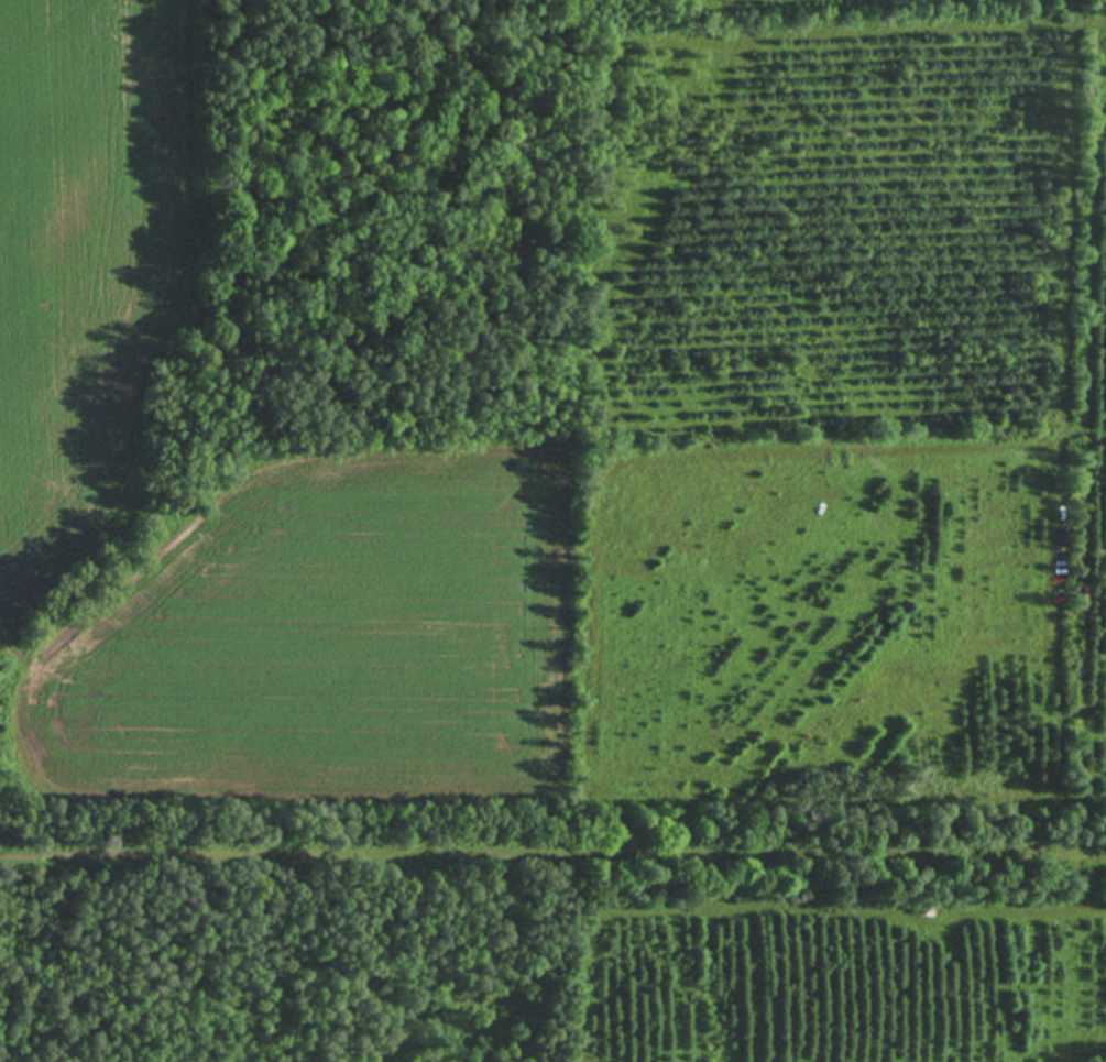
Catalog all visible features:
road: (552, 853)

